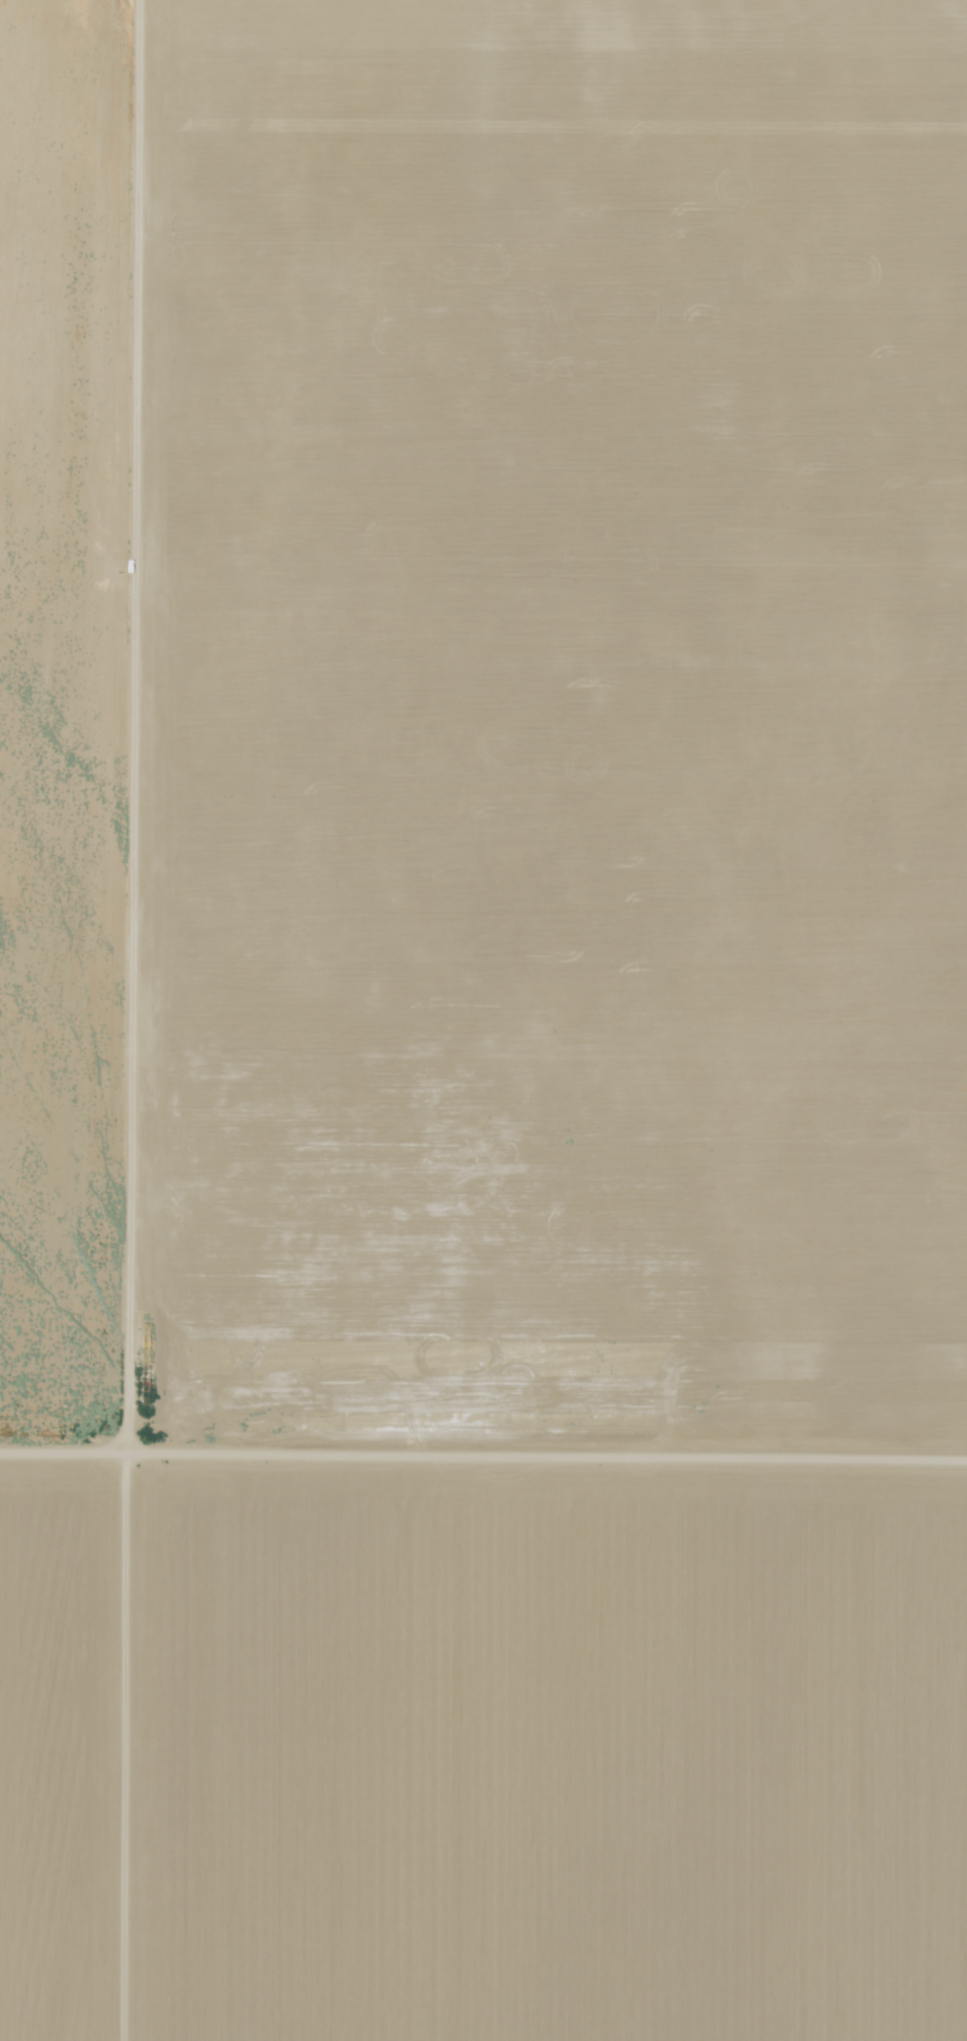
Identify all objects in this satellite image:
crop: (544, 736)
road: (165, 1020)
road: (483, 1463)

